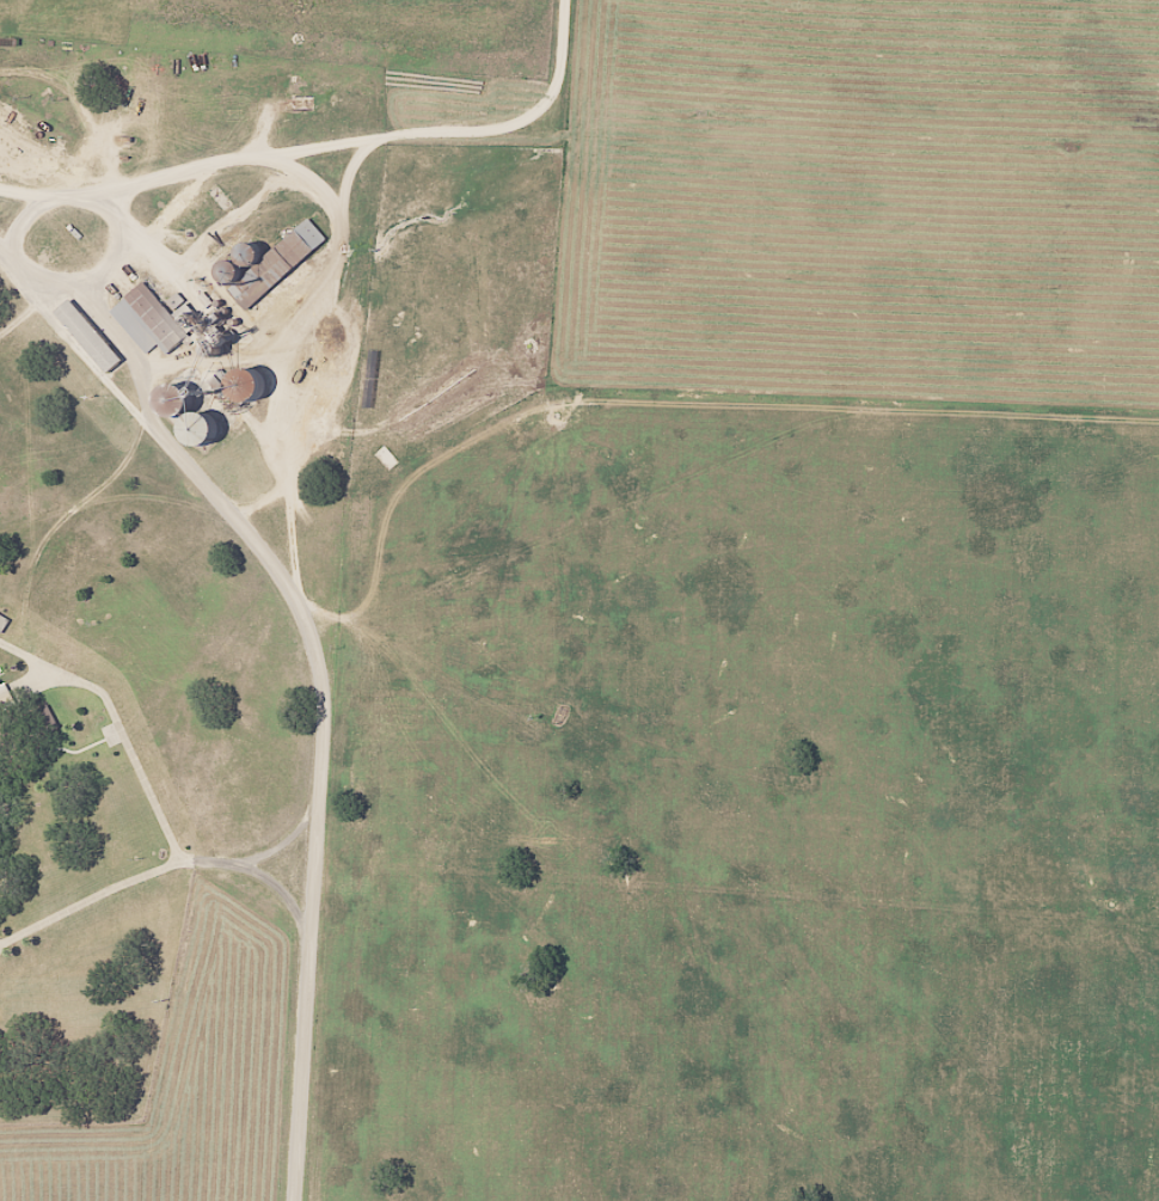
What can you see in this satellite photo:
road: (558, 84)
road: (245, 155)
road: (345, 176)
road: (24, 217)
road: (115, 247)
building: (277, 263)
road: (35, 307)
building: (149, 320)
road: (314, 326)
building: (87, 336)
building: (173, 402)
road: (61, 517)
road: (251, 537)
building: (2, 623)
building: (45, 721)
building: (5, 723)
road: (119, 723)
road: (283, 839)
road: (158, 870)
road: (301, 1058)

